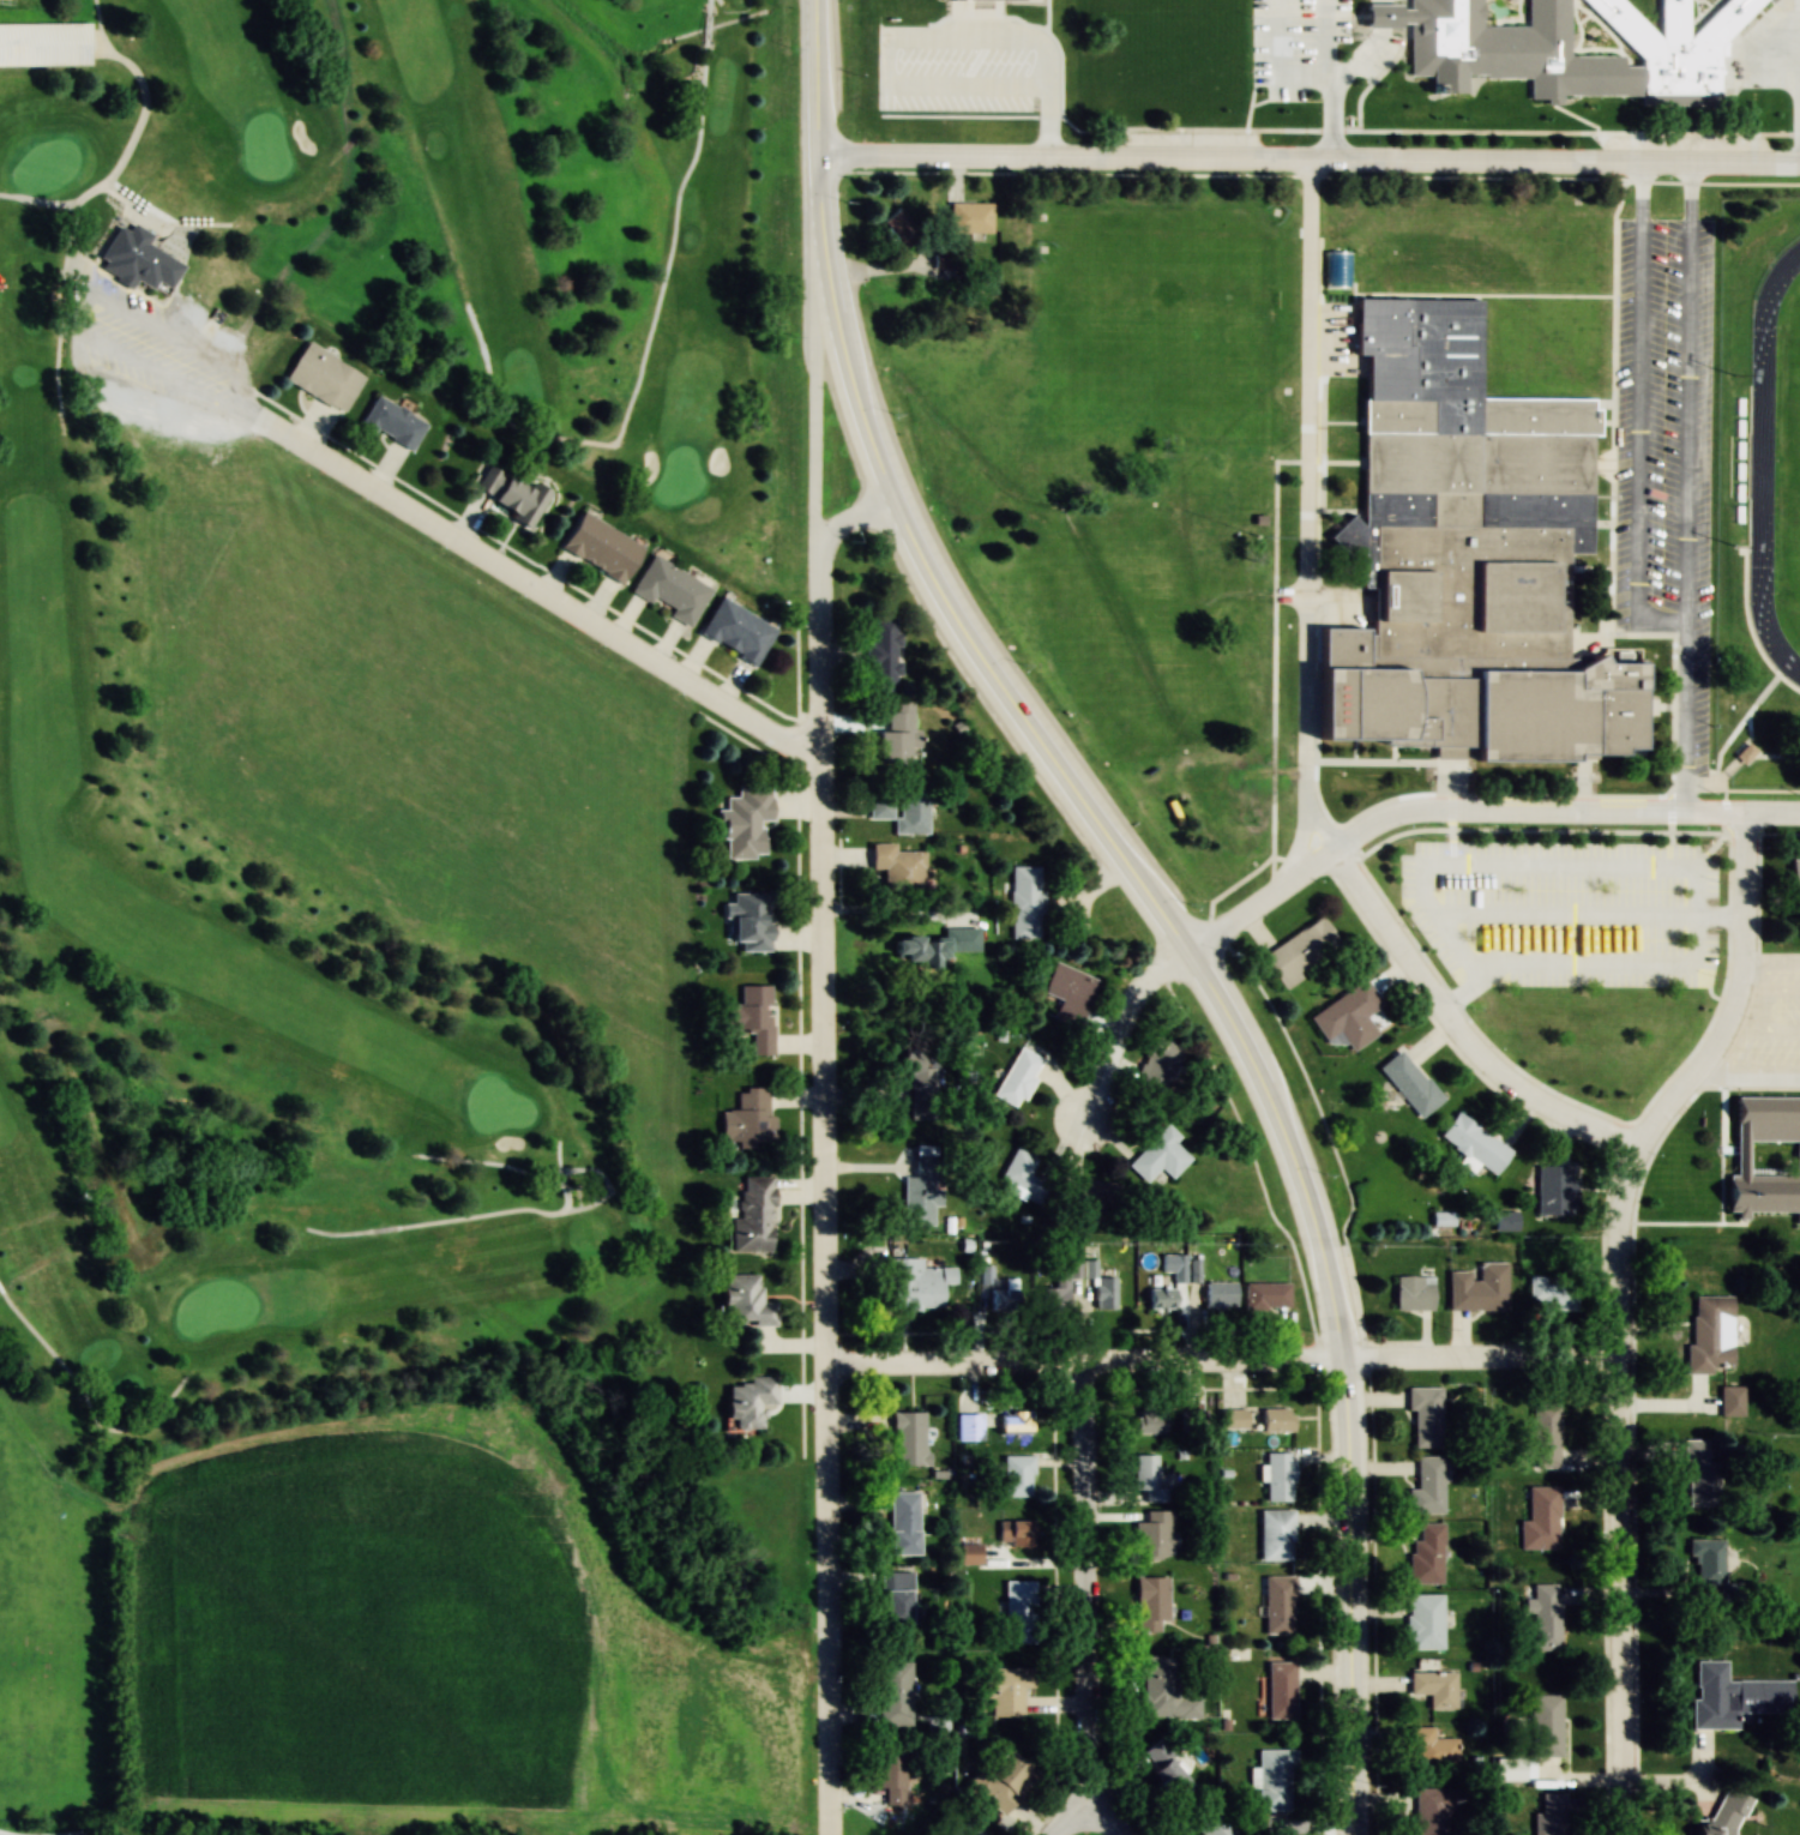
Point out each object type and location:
building: (1674, 42)
building: (44, 43)
road: (1788, 61)
building: (1212, 62)
road: (1342, 78)
road: (144, 107)
road: (1308, 158)
building: (968, 217)
road: (161, 219)
building: (898, 228)
road: (824, 255)
building: (134, 259)
road: (64, 275)
road: (82, 301)
road: (648, 337)
building: (321, 377)
road: (823, 415)
building: (390, 422)
parking lot: (1664, 437)
track: (1765, 462)
park: (1796, 465)
road: (1686, 493)
building: (508, 495)
road: (1310, 510)
building: (598, 547)
building: (1465, 559)
building: (668, 590)
road: (537, 591)
building: (734, 631)
building: (881, 654)
building: (895, 734)
building: (899, 804)
road: (1474, 812)
building: (742, 823)
building: (897, 868)
building: (1794, 874)
building: (1025, 902)
parking lot: (1575, 909)
road: (1161, 913)
park: (384, 920)
building: (747, 921)
building: (958, 939)
building: (913, 952)
building: (1300, 952)
building: (1068, 993)
building: (751, 1017)
building: (1347, 1017)
road: (1121, 1025)
road: (1453, 1039)
building: (1156, 1064)
building: (1017, 1078)
building: (1409, 1084)
building: (921, 1085)
building: (746, 1120)
building: (1474, 1145)
road: (824, 1148)
building: (1158, 1157)
building: (1765, 1157)
building: (1022, 1178)
building: (1554, 1190)
building: (921, 1191)
building: (1084, 1199)
road: (565, 1210)
building: (752, 1216)
building: (1505, 1222)
building: (915, 1283)
building: (1060, 1284)
building: (1100, 1287)
building: (1477, 1288)
building: (1411, 1293)
building: (1552, 1293)
building: (1218, 1295)
building: (1264, 1295)
building: (1005, 1296)
building: (1158, 1299)
building: (744, 1301)
road: (1619, 1308)
building: (1710, 1334)
road: (1222, 1361)
road: (88, 1395)
building: (1730, 1401)
building: (747, 1402)
building: (1425, 1416)
building: (1232, 1420)
building: (1275, 1420)
building: (1149, 1422)
building: (1013, 1424)
building: (974, 1426)
building: (1543, 1436)
building: (907, 1439)
building: (1697, 1473)
building: (1149, 1475)
building: (1015, 1476)
building: (1277, 1476)
building: (1425, 1487)
building: (1541, 1517)
building: (901, 1523)
building: (1013, 1533)
building: (1275, 1535)
building: (1151, 1536)
building: (968, 1554)
building: (1426, 1556)
building: (1705, 1560)
road: (1080, 1592)
building: (892, 1598)
road: (1349, 1598)
building: (1149, 1604)
building: (1277, 1605)
building: (1018, 1612)
building: (1542, 1618)
building: (1423, 1622)
building: (1166, 1686)
building: (1433, 1687)
building: (1004, 1690)
building: (1280, 1690)
building: (892, 1693)
building: (1734, 1696)
building: (1545, 1725)
building: (1432, 1746)
building: (1163, 1765)
building: (892, 1776)
building: (998, 1779)
building: (1275, 1780)
building: (1429, 1811)
building: (1552, 1815)
road: (1084, 1817)
building: (1212, 1824)
building: (969, 1829)
building: (1700, 1829)

